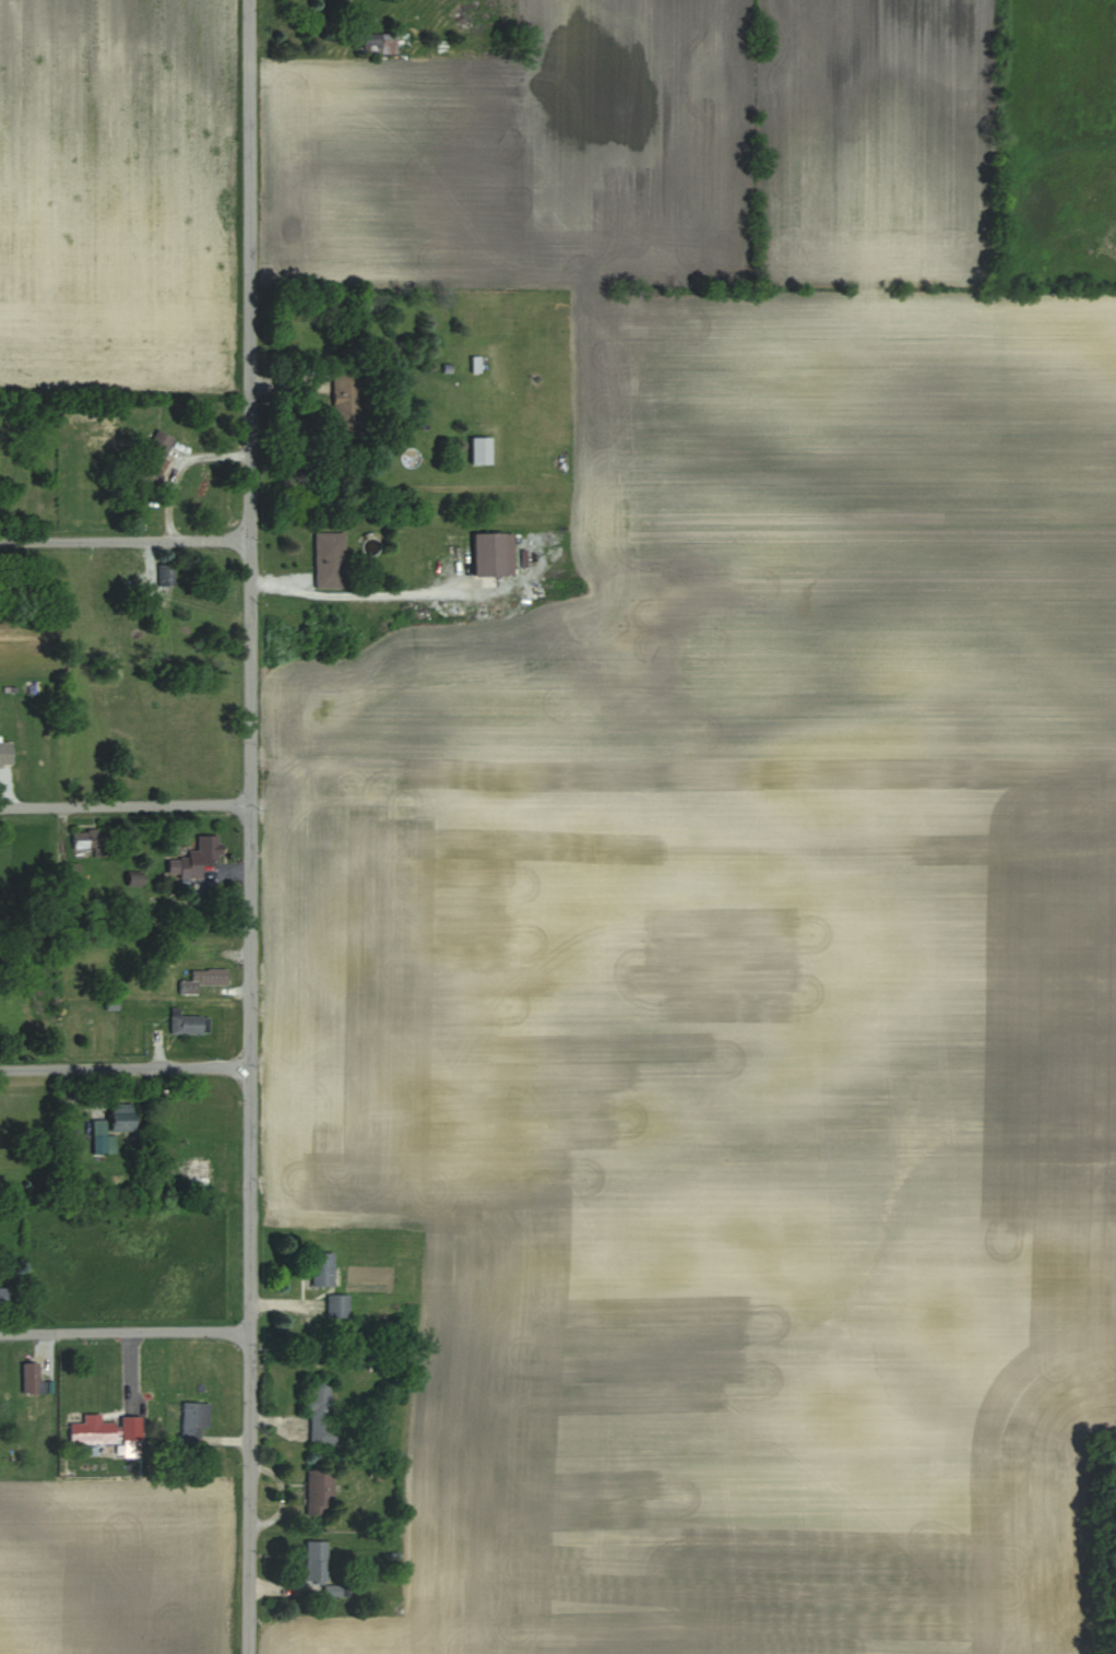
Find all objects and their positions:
building: (380, 43)
building: (476, 364)
building: (348, 404)
building: (480, 450)
building: (409, 457)
building: (153, 459)
road: (124, 541)
building: (494, 555)
building: (330, 560)
building: (165, 575)
road: (356, 598)
building: (5, 753)
road: (124, 804)
road: (251, 826)
building: (91, 840)
building: (197, 858)
building: (204, 979)
building: (188, 1023)
road: (124, 1066)
building: (122, 1117)
building: (98, 1144)
building: (200, 1169)
building: (322, 1268)
building: (3, 1293)
building: (337, 1306)
road: (124, 1332)
building: (32, 1378)
building: (322, 1415)
building: (193, 1420)
building: (131, 1428)
building: (92, 1431)
building: (319, 1492)
building: (316, 1562)

